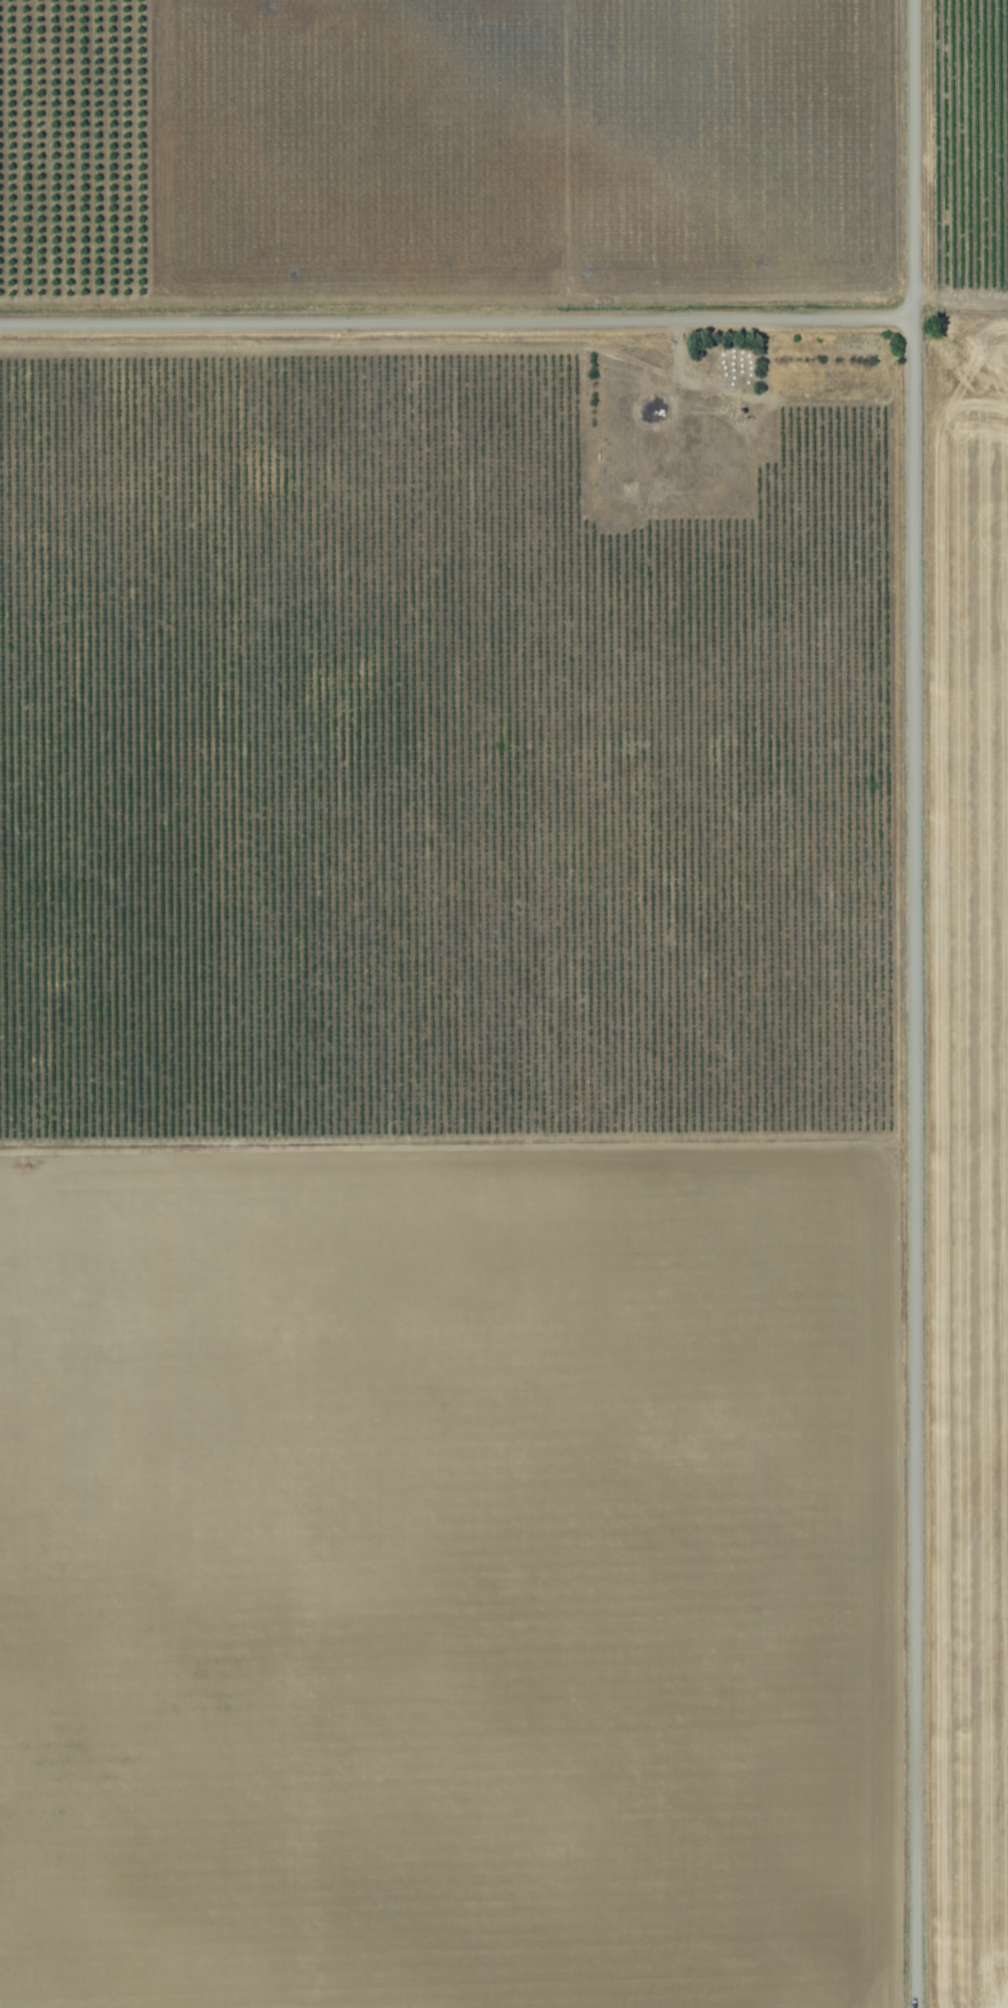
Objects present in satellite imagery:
road: (454, 318)
road: (912, 1003)

